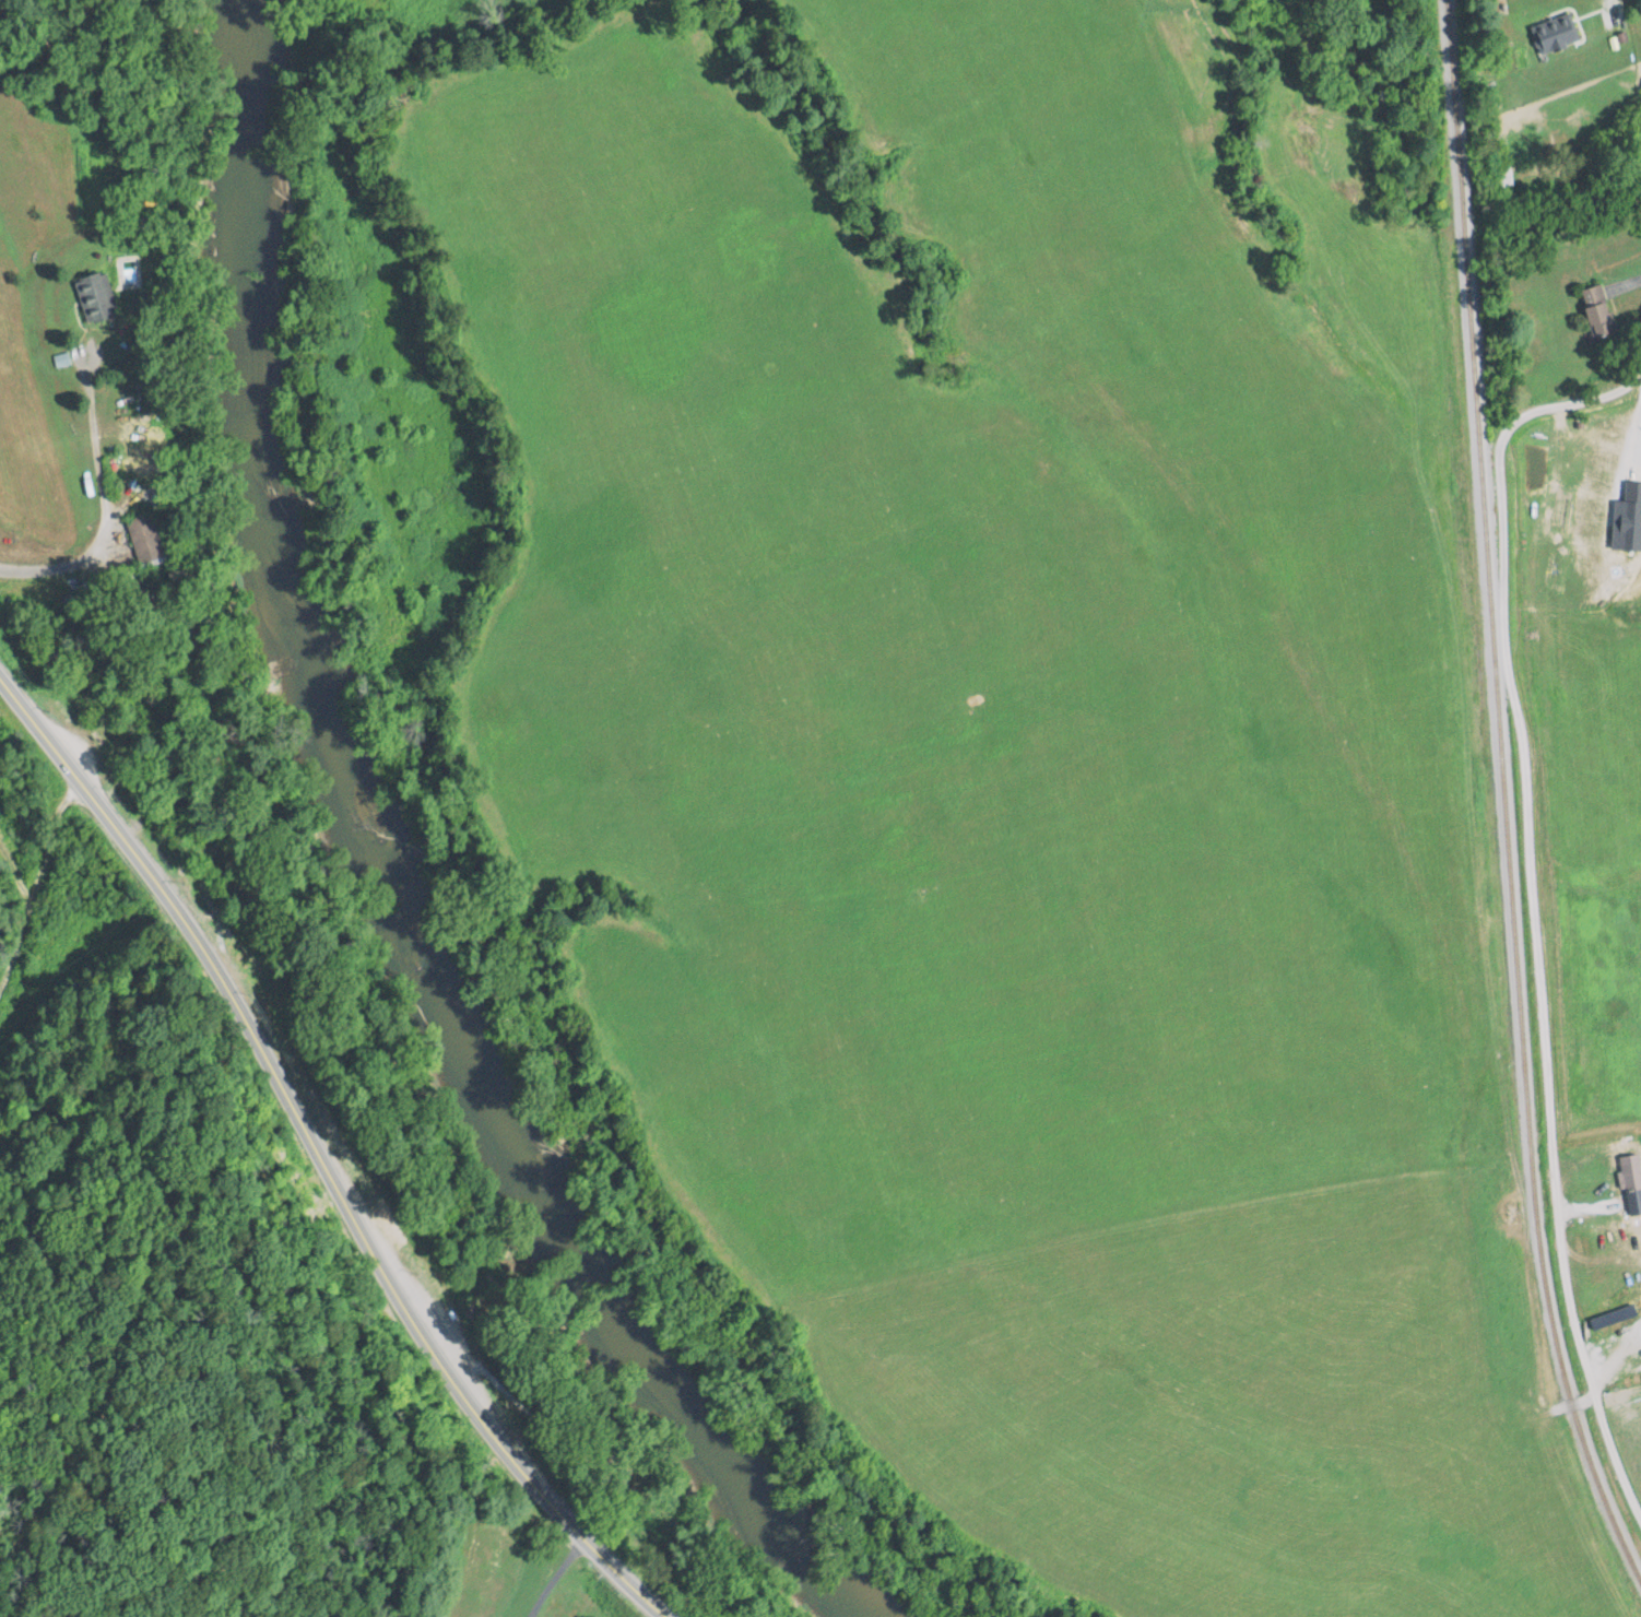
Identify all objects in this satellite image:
crop: (444, 12)
building: (1553, 34)
building: (1502, 177)
building: (93, 296)
building: (1594, 309)
building: (141, 458)
road: (104, 499)
building: (142, 536)
road: (1526, 779)
railway: (1487, 799)
road: (36, 872)
river: (367, 872)
road: (321, 1158)
building: (1629, 1172)
road: (554, 1575)

